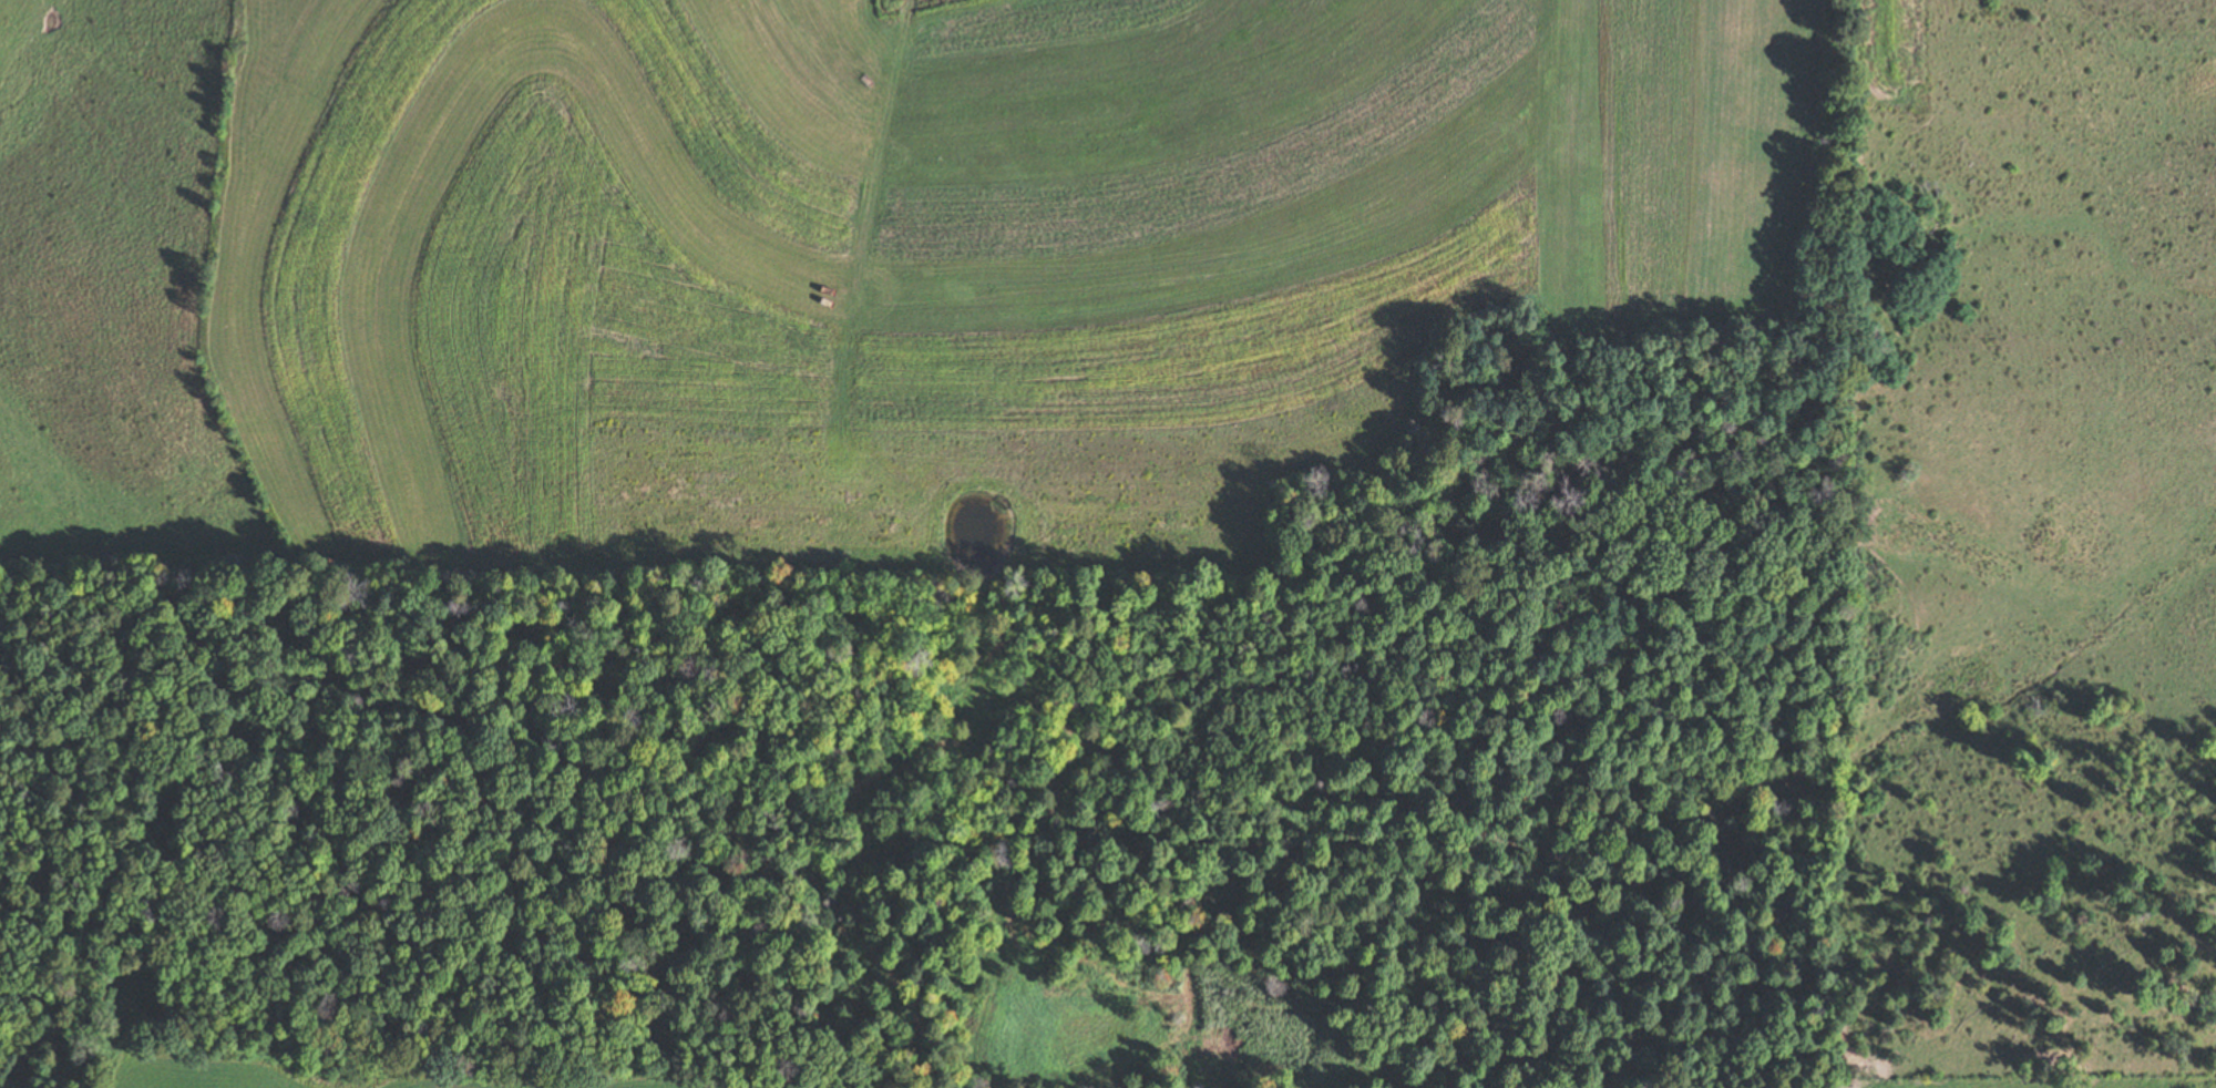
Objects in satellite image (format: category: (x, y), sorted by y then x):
crop: (519, 248)
crop: (1234, 257)
crop: (318, 1072)

